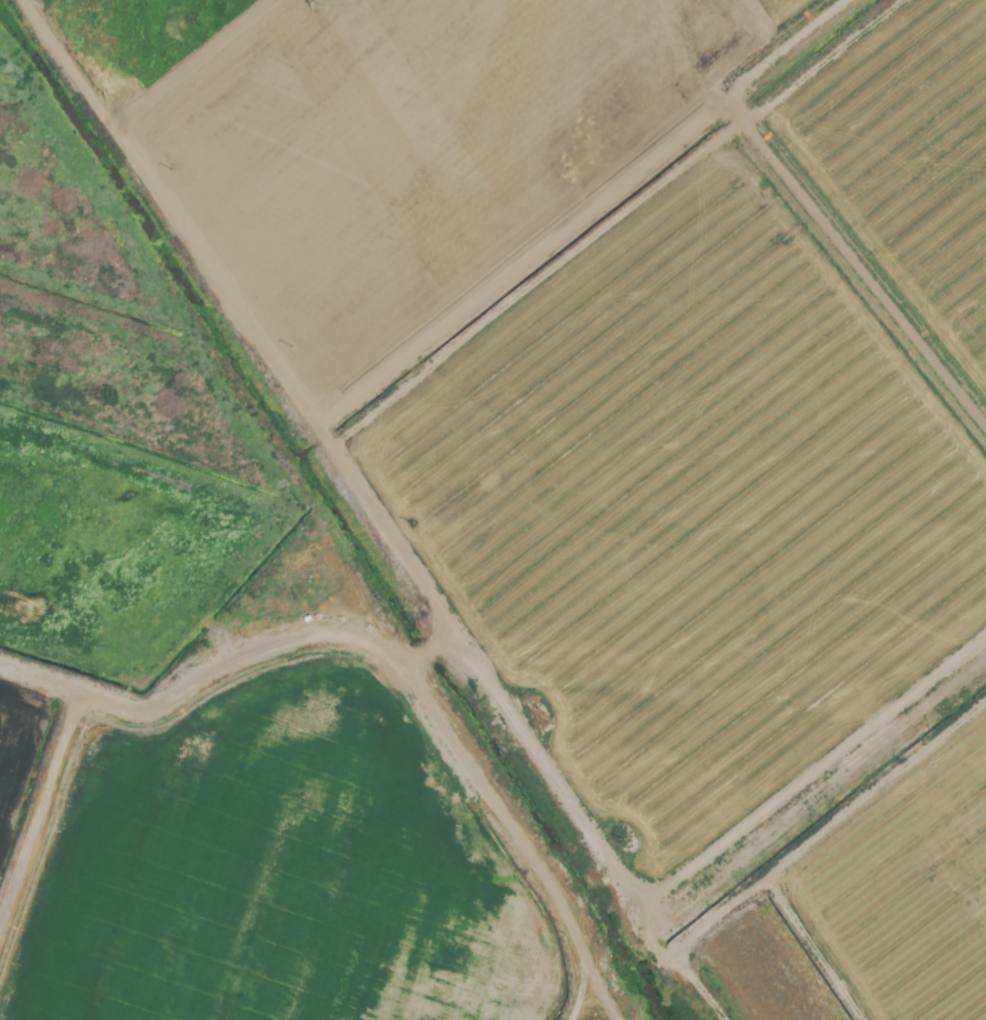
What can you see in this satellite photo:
crop: (493, 510)

